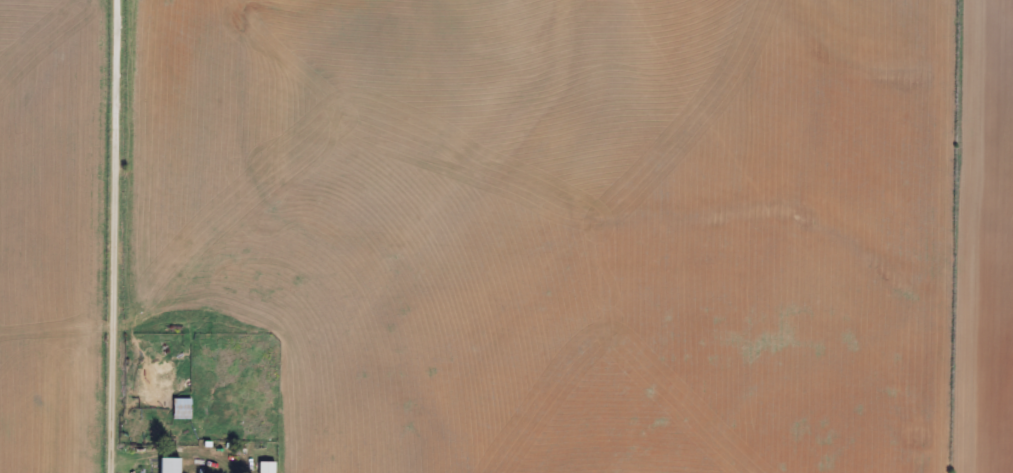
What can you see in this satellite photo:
road: (155, 236)
building: (178, 408)
building: (164, 465)
building: (262, 468)

